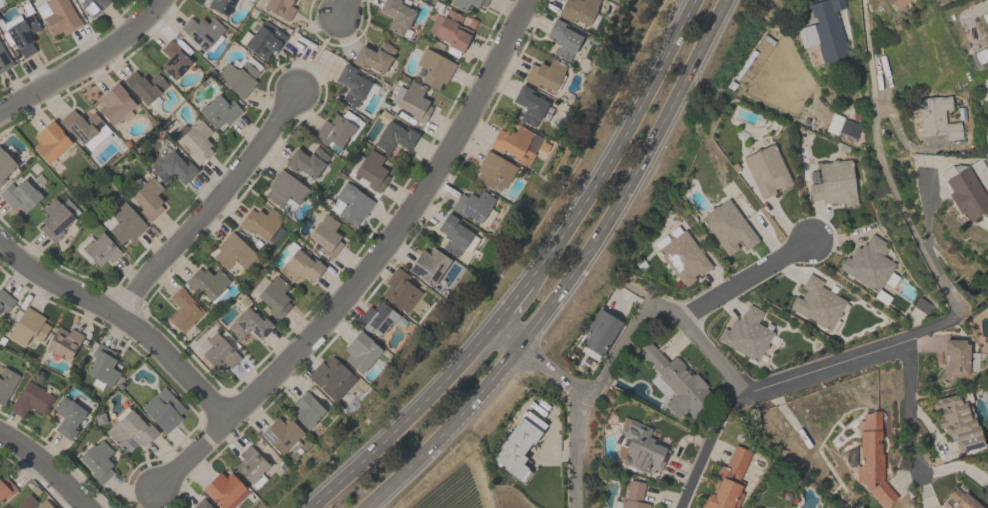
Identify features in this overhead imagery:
building: (466, 3)
building: (895, 3)
building: (92, 5)
building: (220, 5)
road: (346, 6)
building: (280, 7)
building: (577, 10)
building: (396, 15)
building: (58, 16)
building: (984, 26)
building: (450, 29)
building: (201, 30)
building: (823, 32)
building: (23, 34)
building: (262, 39)
building: (563, 39)
building: (373, 56)
building: (979, 58)
building: (173, 59)
building: (4, 60)
road: (89, 62)
building: (434, 67)
building: (546, 74)
building: (237, 78)
building: (351, 84)
building: (144, 85)
building: (411, 100)
building: (987, 100)
building: (114, 103)
building: (529, 105)
building: (219, 110)
building: (936, 118)
building: (84, 128)
building: (336, 128)
building: (849, 128)
building: (394, 136)
building: (194, 139)
building: (49, 141)
building: (513, 143)
road: (610, 143)
building: (307, 161)
building: (5, 165)
building: (173, 168)
road: (884, 169)
building: (371, 170)
building: (766, 170)
building: (493, 171)
building: (834, 183)
building: (285, 188)
building: (967, 188)
building: (20, 195)
building: (148, 197)
building: (352, 203)
building: (475, 206)
road: (208, 208)
road: (926, 213)
building: (54, 219)
building: (124, 222)
building: (260, 222)
building: (728, 226)
building: (325, 235)
building: (455, 235)
building: (100, 249)
building: (232, 251)
building: (682, 255)
building: (867, 263)
building: (298, 264)
road: (370, 265)
building: (428, 265)
road: (572, 274)
road: (745, 279)
building: (207, 283)
building: (399, 290)
building: (272, 295)
building: (5, 301)
building: (817, 303)
road: (509, 304)
building: (183, 310)
building: (379, 317)
road: (125, 319)
building: (249, 323)
building: (28, 326)
building: (599, 331)
building: (747, 334)
road: (626, 335)
building: (63, 342)
building: (360, 352)
building: (218, 353)
road: (846, 353)
road: (713, 357)
building: (953, 358)
building: (101, 366)
road: (825, 373)
building: (331, 377)
building: (6, 382)
building: (676, 383)
road: (585, 396)
building: (30, 399)
building: (163, 409)
building: (306, 409)
road: (909, 409)
building: (67, 417)
road: (404, 422)
building: (957, 422)
road: (929, 426)
building: (129, 429)
building: (280, 433)
road: (705, 444)
building: (518, 445)
building: (641, 448)
building: (872, 459)
building: (97, 460)
road: (48, 462)
building: (251, 466)
road: (955, 466)
building: (727, 480)
building: (5, 487)
building: (225, 490)
road: (924, 490)
building: (633, 495)
building: (959, 499)
building: (32, 503)
building: (201, 504)

